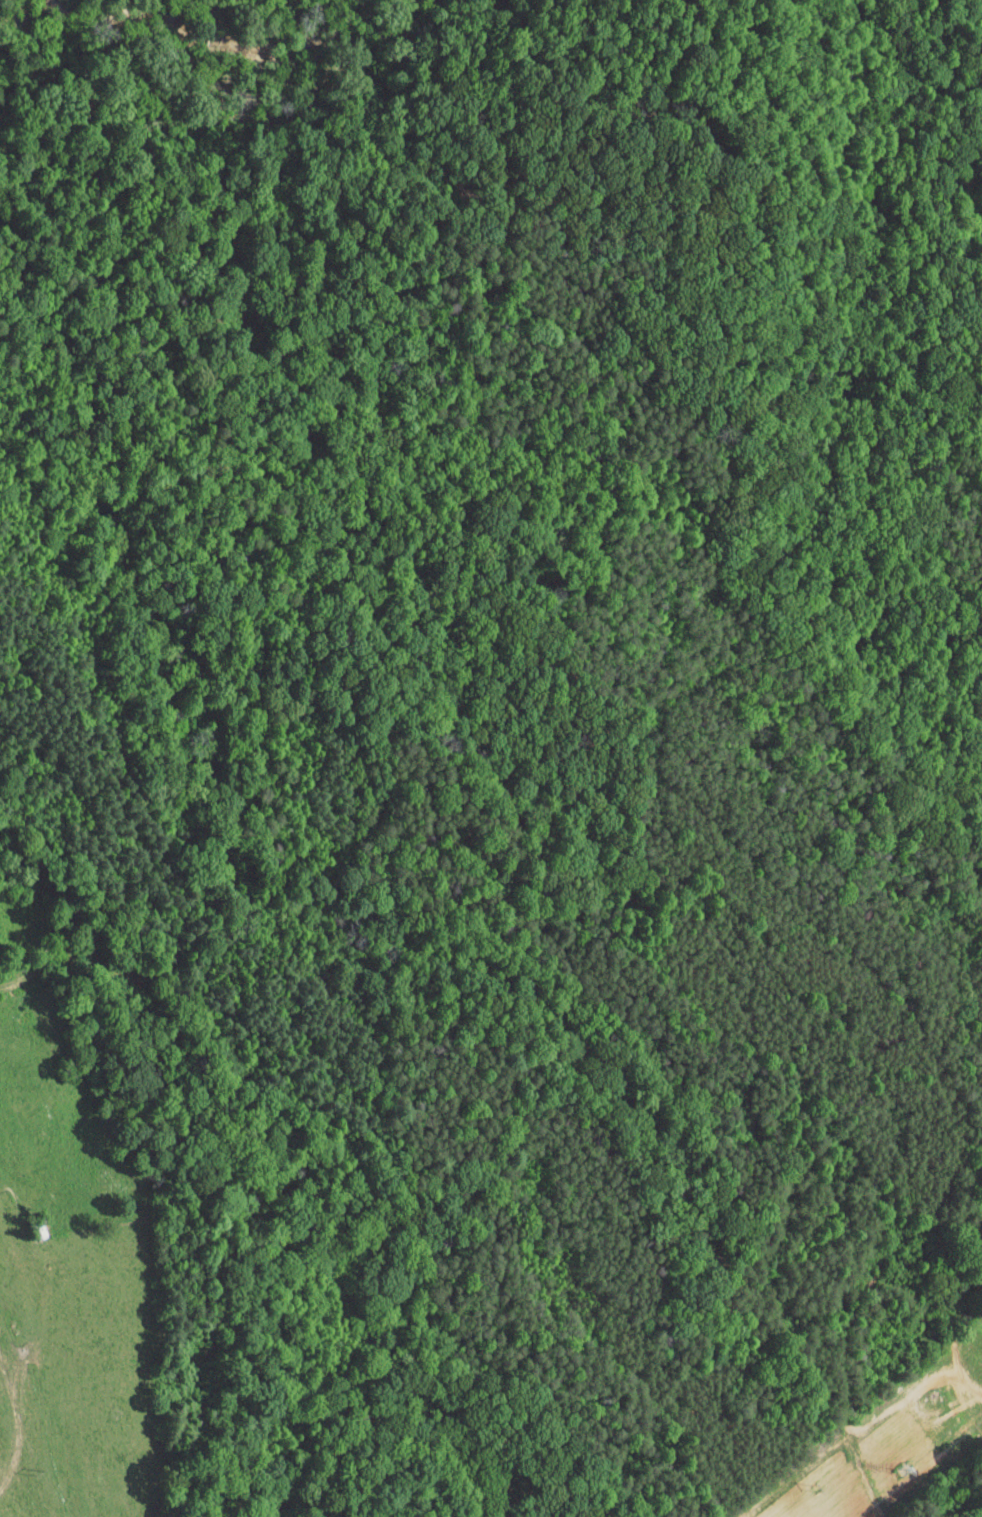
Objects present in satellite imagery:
road: (18, 1422)
power tower: (906, 1471)

